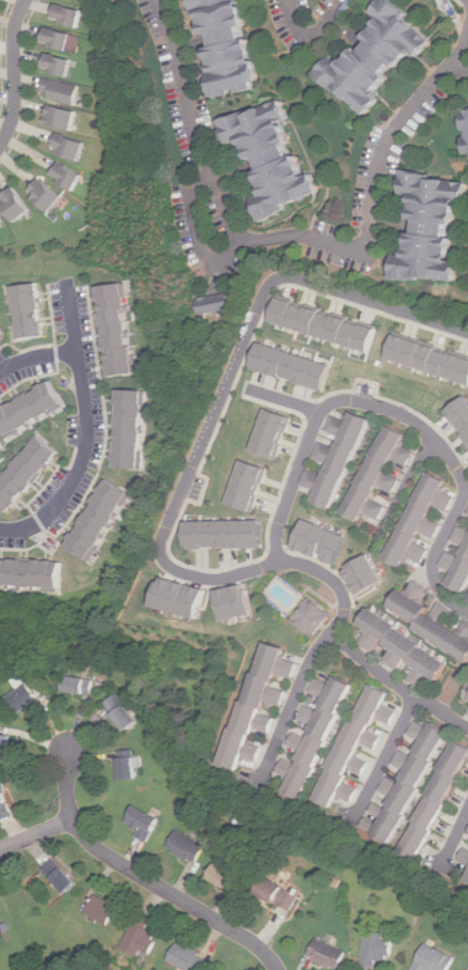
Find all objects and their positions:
building: (70, 15)
road: (312, 36)
building: (60, 39)
building: (232, 46)
building: (382, 54)
building: (61, 64)
road: (457, 66)
road: (13, 73)
road: (25, 83)
building: (62, 92)
building: (62, 116)
building: (467, 120)
building: (69, 147)
building: (270, 161)
building: (71, 175)
building: (49, 195)
building: (19, 204)
building: (1, 218)
road: (301, 227)
building: (435, 227)
road: (201, 237)
building: (217, 303)
building: (25, 311)
building: (321, 324)
building: (117, 329)
building: (1, 333)
road: (40, 356)
building: (428, 358)
building: (291, 367)
road: (286, 401)
building: (28, 408)
road: (402, 415)
building: (459, 418)
building: (129, 429)
building: (271, 433)
road: (93, 436)
road: (204, 436)
building: (338, 458)
building: (25, 472)
building: (380, 474)
road: (407, 482)
building: (247, 484)
building: (467, 513)
building: (98, 519)
building: (423, 520)
building: (224, 534)
building: (462, 534)
building: (319, 542)
building: (457, 568)
building: (32, 573)
building: (364, 574)
building: (179, 597)
building: (233, 602)
building: (307, 617)
building: (433, 619)
building: (405, 649)
building: (80, 685)
road: (397, 685)
building: (24, 695)
building: (466, 695)
road: (293, 705)
building: (259, 706)
building: (124, 713)
building: (315, 733)
building: (360, 743)
building: (7, 746)
road: (387, 759)
building: (128, 765)
building: (410, 777)
building: (435, 801)
building: (6, 805)
building: (144, 822)
road: (36, 834)
road: (456, 839)
building: (187, 847)
building: (464, 854)
building: (466, 875)
building: (63, 876)
building: (226, 876)
road: (144, 878)
building: (281, 895)
building: (103, 911)
building: (141, 938)
building: (377, 948)
building: (329, 954)
building: (187, 958)
building: (435, 959)

